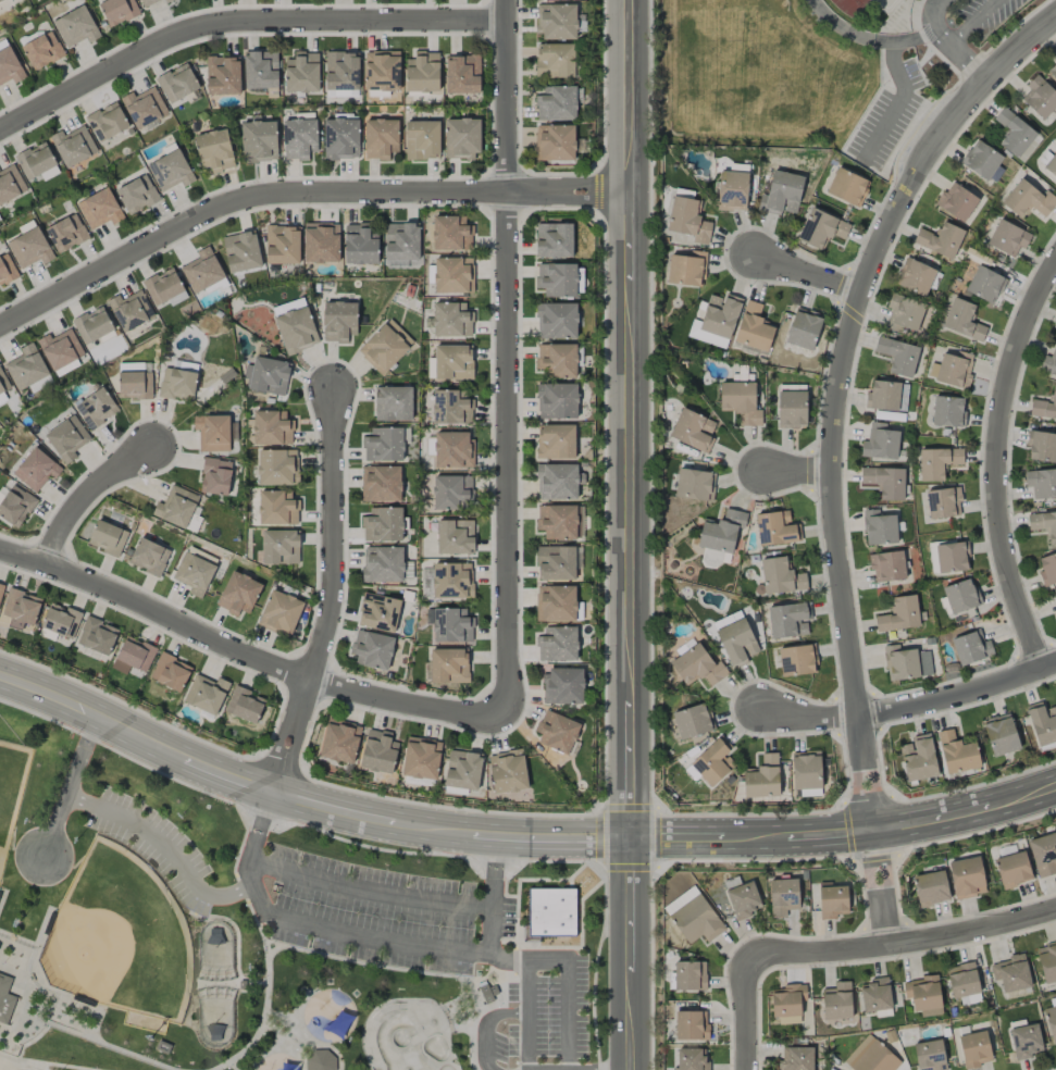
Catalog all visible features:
building: (1, 0)
building: (166, 1)
building: (147, 2)
building: (117, 11)
road: (240, 17)
road: (972, 20)
building: (556, 21)
building: (75, 27)
road: (951, 46)
building: (42, 50)
building: (555, 60)
building: (10, 66)
building: (260, 70)
building: (1052, 70)
building: (341, 71)
building: (381, 71)
building: (301, 72)
building: (422, 72)
building: (462, 74)
building: (222, 75)
road: (903, 79)
building: (177, 83)
building: (1040, 97)
building: (556, 103)
building: (144, 107)
building: (107, 122)
building: (1014, 134)
building: (299, 138)
building: (340, 138)
building: (380, 138)
building: (461, 138)
building: (422, 139)
building: (259, 141)
building: (555, 144)
building: (73, 146)
building: (214, 150)
building: (35, 160)
building: (981, 160)
building: (1051, 164)
building: (170, 171)
building: (10, 184)
building: (847, 187)
building: (732, 190)
road: (298, 192)
building: (781, 194)
building: (137, 195)
building: (1028, 199)
building: (956, 201)
building: (99, 209)
building: (688, 221)
building: (821, 228)
building: (66, 233)
building: (451, 233)
building: (1007, 238)
building: (554, 239)
building: (940, 239)
building: (321, 241)
building: (400, 241)
building: (361, 244)
building: (282, 245)
building: (29, 248)
building: (241, 251)
building: (397, 263)
building: (687, 269)
building: (7, 270)
building: (202, 271)
building: (454, 275)
road: (809, 275)
building: (915, 276)
building: (557, 279)
building: (984, 284)
building: (164, 288)
building: (131, 310)
building: (903, 313)
building: (720, 314)
building: (451, 320)
building: (962, 320)
building: (339, 321)
building: (557, 321)
building: (92, 326)
building: (753, 327)
building: (804, 328)
building: (296, 329)
building: (705, 336)
building: (385, 346)
building: (60, 349)
building: (898, 356)
road: (509, 357)
building: (557, 359)
building: (452, 362)
building: (1049, 363)
building: (25, 368)
building: (952, 369)
building: (266, 376)
building: (177, 383)
building: (135, 385)
building: (2, 387)
road: (837, 391)
building: (882, 396)
building: (557, 400)
building: (740, 401)
building: (393, 403)
building: (451, 407)
building: (1044, 407)
building: (96, 408)
building: (791, 409)
building: (948, 411)
building: (272, 427)
building: (693, 431)
building: (212, 433)
building: (67, 438)
building: (556, 441)
building: (880, 441)
building: (383, 445)
building: (1041, 446)
building: (452, 449)
building: (936, 462)
road: (997, 464)
building: (277, 466)
building: (36, 470)
road: (797, 470)
building: (215, 476)
building: (558, 482)
building: (884, 482)
building: (1041, 483)
building: (381, 484)
building: (694, 484)
building: (4, 488)
building: (451, 492)
road: (87, 495)
building: (943, 502)
building: (15, 506)
building: (176, 507)
building: (277, 508)
building: (557, 521)
building: (383, 524)
building: (1044, 524)
building: (879, 527)
building: (775, 528)
building: (721, 531)
road: (629, 535)
building: (455, 536)
building: (107, 538)
building: (279, 547)
building: (149, 557)
building: (715, 558)
building: (952, 558)
building: (556, 563)
building: (382, 564)
building: (887, 567)
building: (1047, 570)
building: (194, 573)
building: (780, 576)
building: (451, 581)
building: (1, 590)
building: (238, 594)
building: (960, 596)
road: (335, 597)
building: (556, 604)
building: (20, 608)
building: (279, 612)
building: (378, 612)
building: (1055, 612)
building: (899, 614)
building: (788, 620)
building: (61, 621)
building: (450, 624)
building: (97, 636)
building: (736, 643)
building: (557, 644)
building: (971, 648)
building: (372, 649)
road: (248, 651)
building: (133, 656)
building: (797, 659)
building: (900, 663)
building: (448, 665)
building: (697, 667)
building: (170, 672)
building: (562, 686)
building: (206, 694)
building: (245, 705)
road: (911, 707)
building: (692, 721)
building: (1042, 722)
building: (557, 732)
building: (999, 734)
building: (339, 741)
building: (378, 751)
building: (956, 752)
building: (421, 758)
building: (918, 758)
building: (713, 761)
building: (462, 770)
building: (806, 770)
building: (507, 771)
building: (762, 777)
park: (11, 788)
road: (70, 788)
road: (517, 838)
road: (165, 849)
building: (1043, 855)
building: (1012, 869)
building: (966, 878)
road: (370, 888)
road: (883, 888)
building: (931, 888)
building: (782, 896)
building: (742, 900)
building: (831, 901)
building: (550, 912)
parking lot: (383, 915)
building: (695, 920)
park: (269, 936)
park: (121, 938)
road: (368, 940)
road: (904, 945)
building: (1047, 963)
building: (1011, 973)
building: (689, 975)
building: (962, 980)
road: (568, 992)
road: (524, 994)
building: (875, 995)
building: (922, 995)
building: (5, 999)
building: (836, 1000)
building: (787, 1004)
parking lot: (548, 1011)
road: (748, 1011)
building: (1051, 1021)
road: (487, 1024)
building: (691, 1025)
park: (407, 1036)
building: (1026, 1041)
building: (974, 1048)
building: (870, 1056)
building: (929, 1056)
building: (796, 1058)
building: (320, 1059)
building: (692, 1059)

